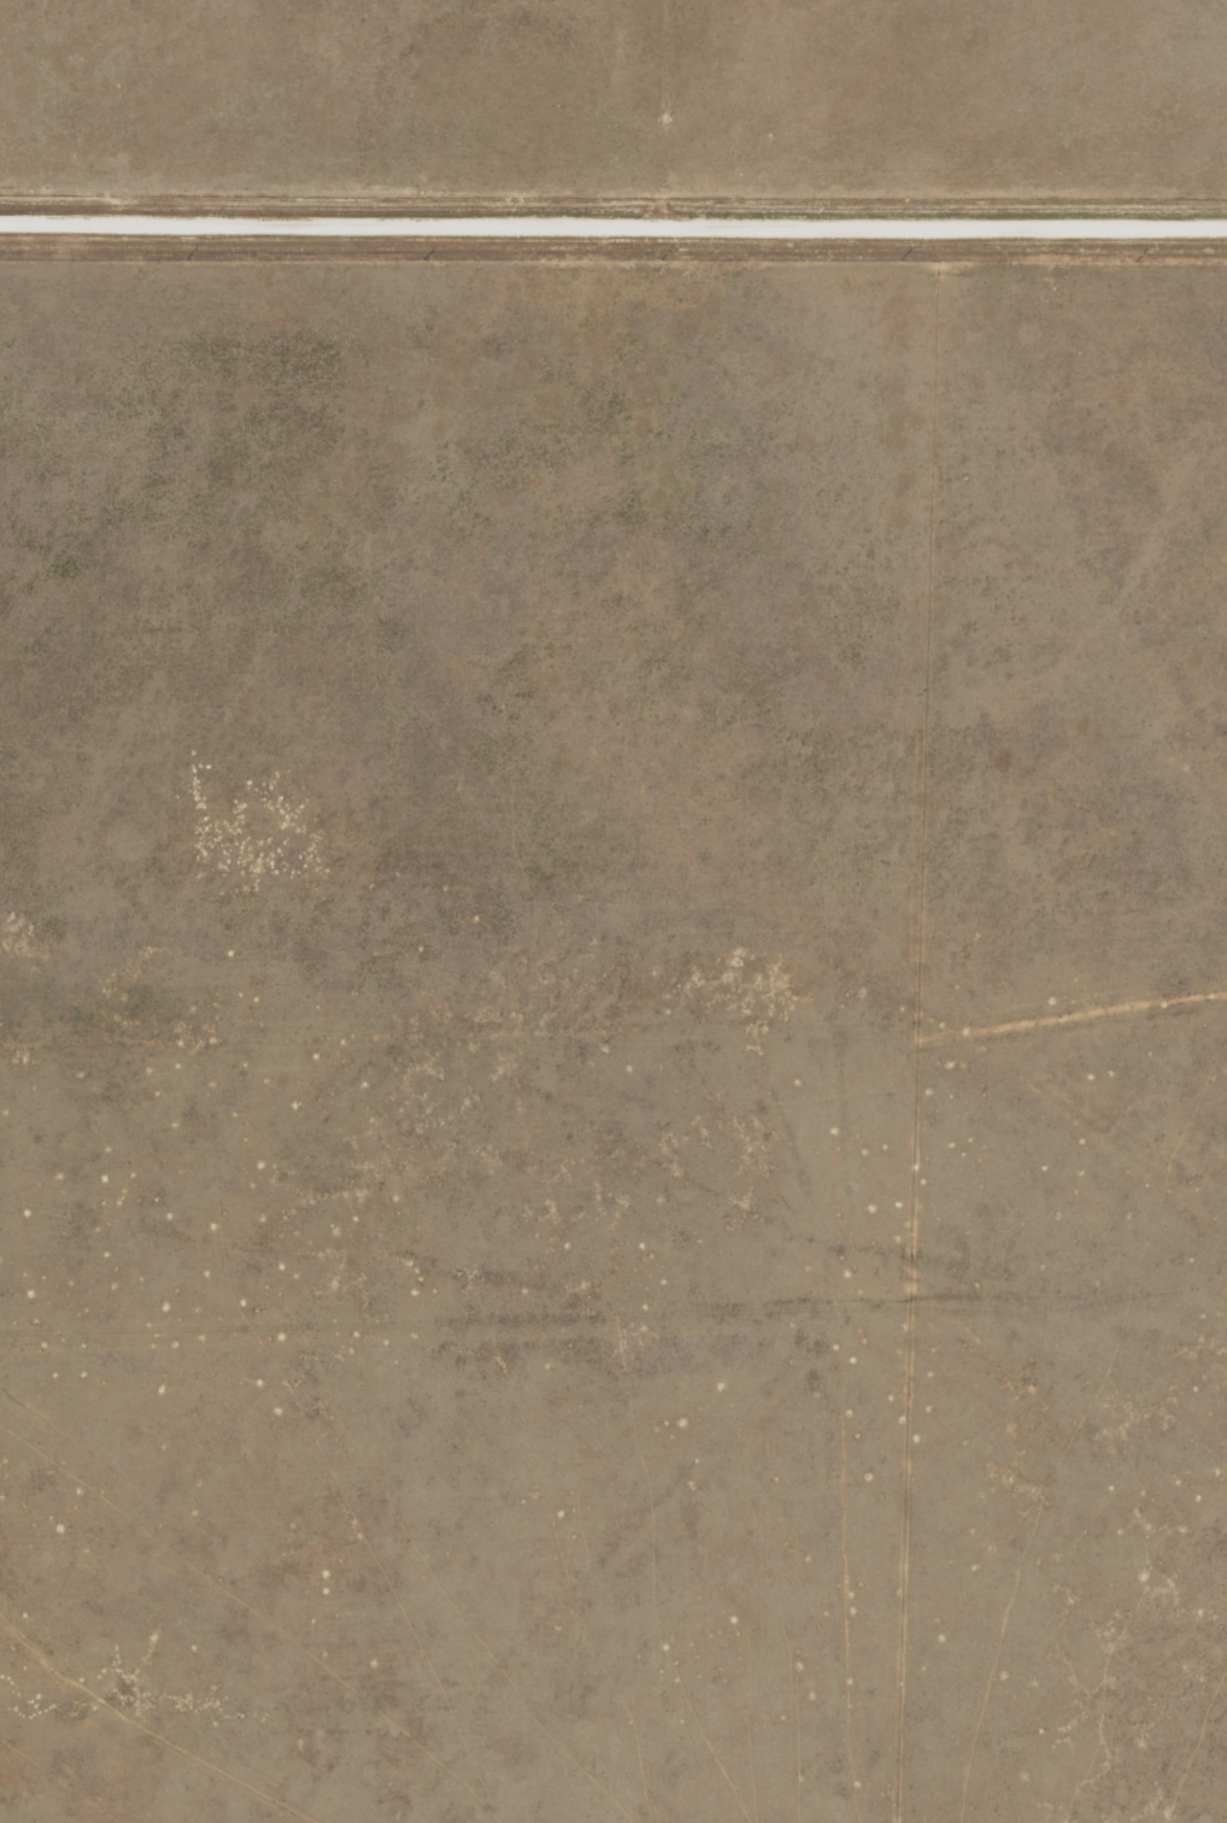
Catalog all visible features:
road: (612, 221)

